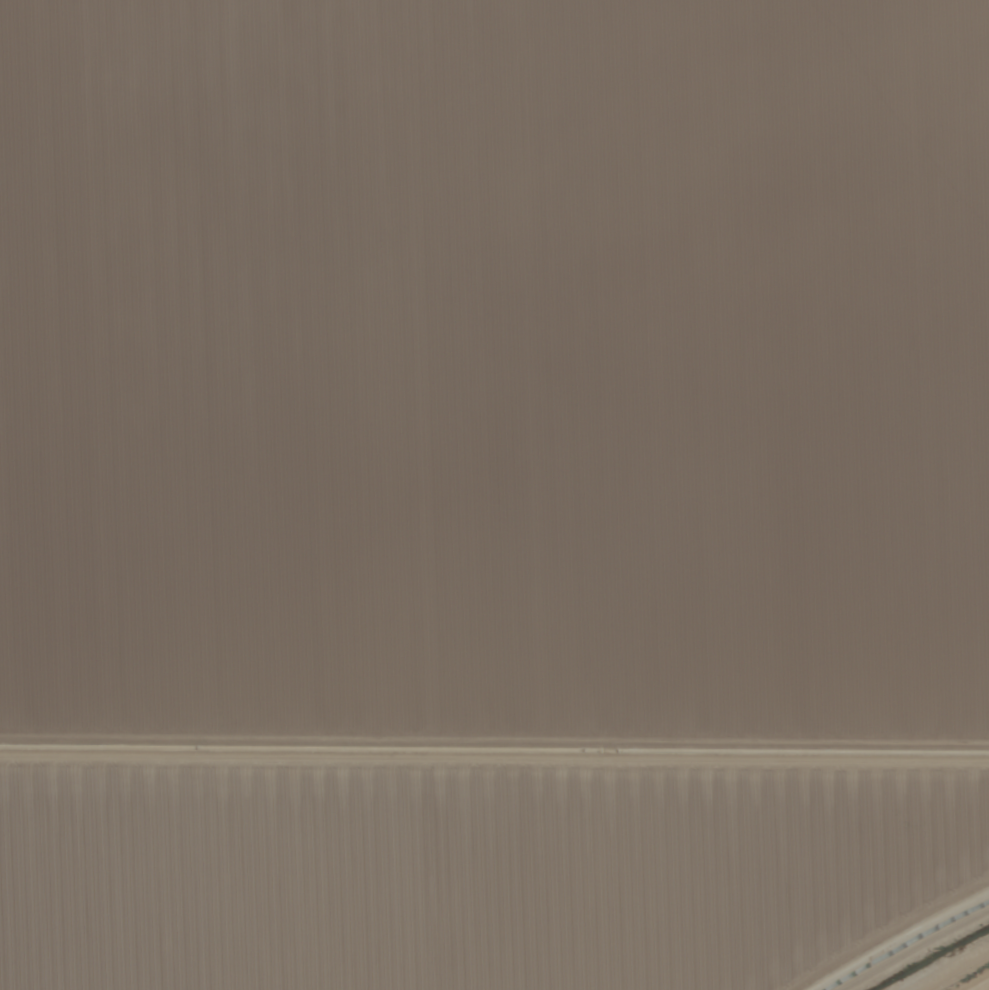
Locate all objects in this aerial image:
road: (494, 776)

